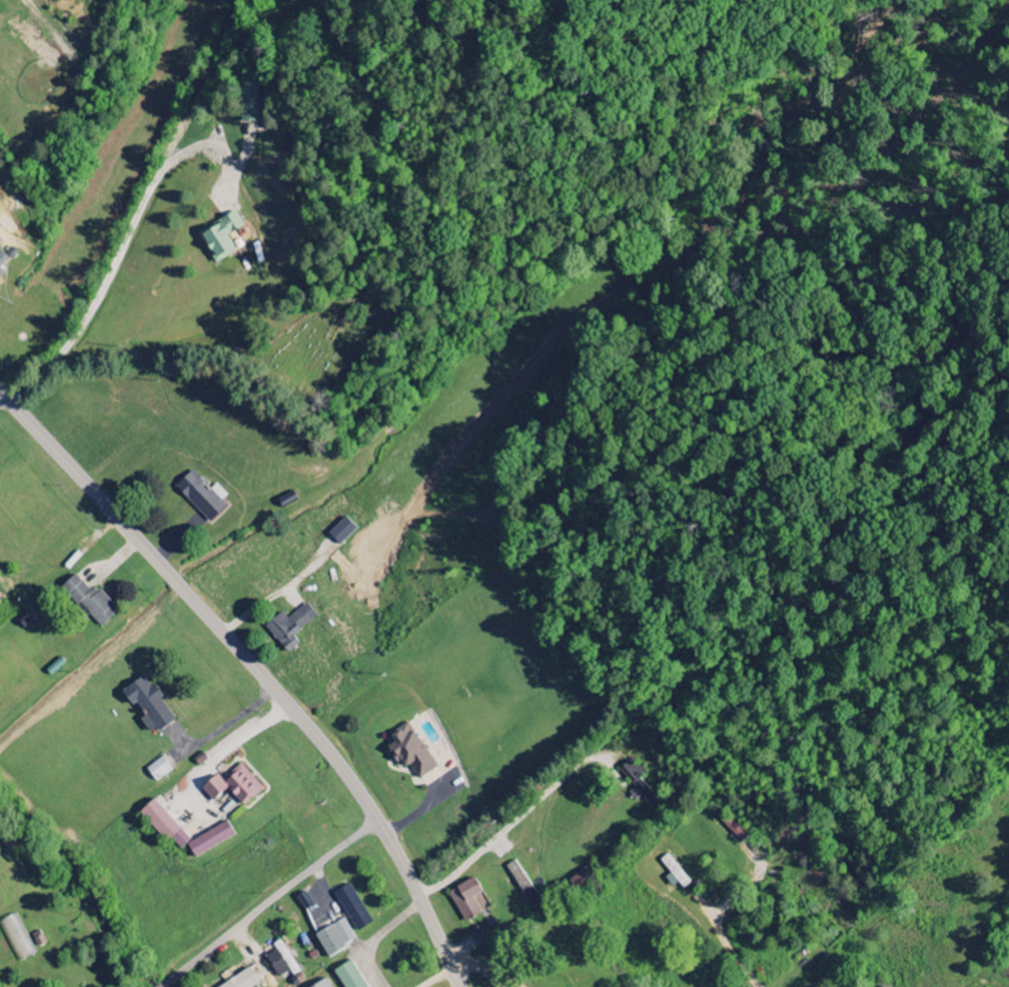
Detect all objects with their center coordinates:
building: (254, 101)
building: (220, 238)
building: (2, 259)
building: (1, 274)
park: (331, 347)
road: (161, 356)
building: (200, 496)
building: (341, 532)
building: (87, 600)
building: (289, 627)
road: (257, 669)
building: (146, 703)
building: (409, 751)
building: (158, 769)
building: (636, 780)
building: (232, 785)
building: (163, 824)
building: (735, 829)
building: (208, 839)
building: (674, 873)
building: (466, 899)
road: (268, 902)
building: (352, 907)
building: (344, 932)
building: (329, 941)
building: (282, 963)
building: (349, 976)
building: (241, 980)
building: (322, 984)

